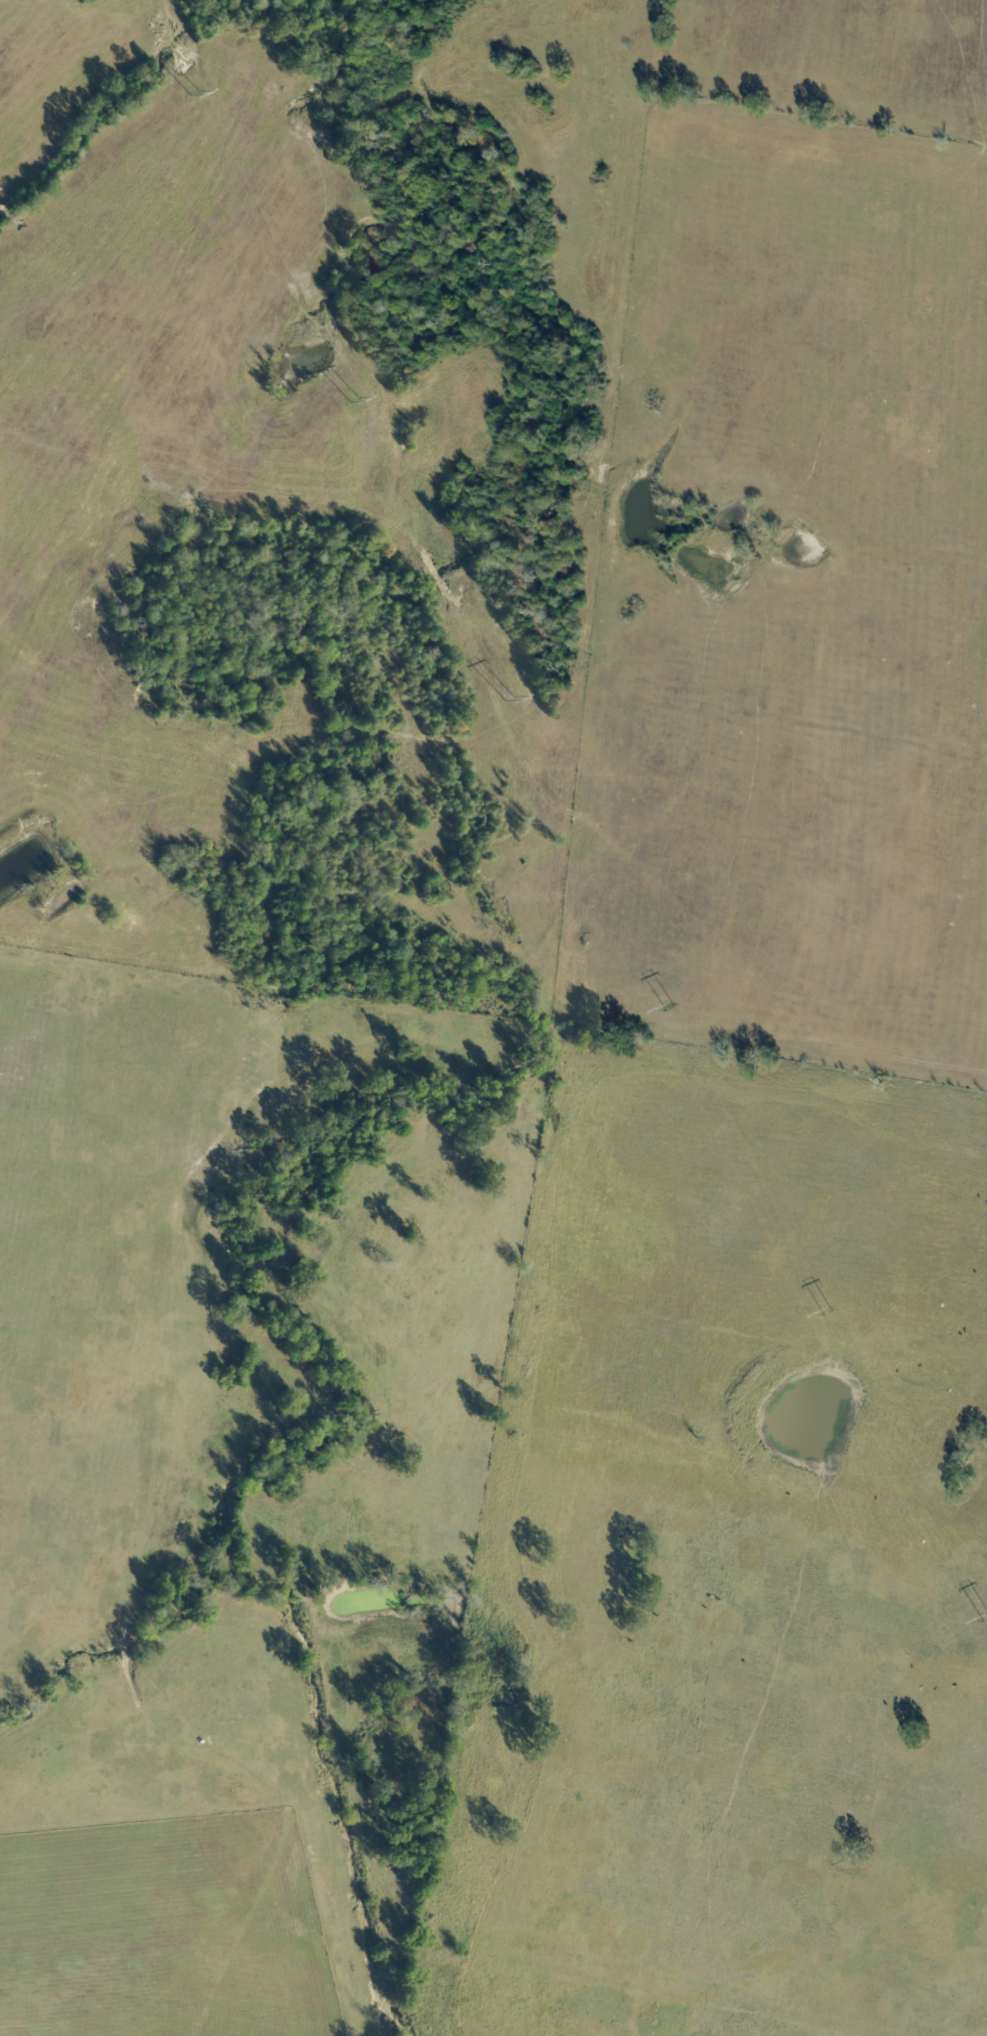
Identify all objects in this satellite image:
power tower: (195, 90)
power tower: (348, 396)
power tower: (505, 685)
power tower: (673, 1004)
power tower: (828, 1309)

